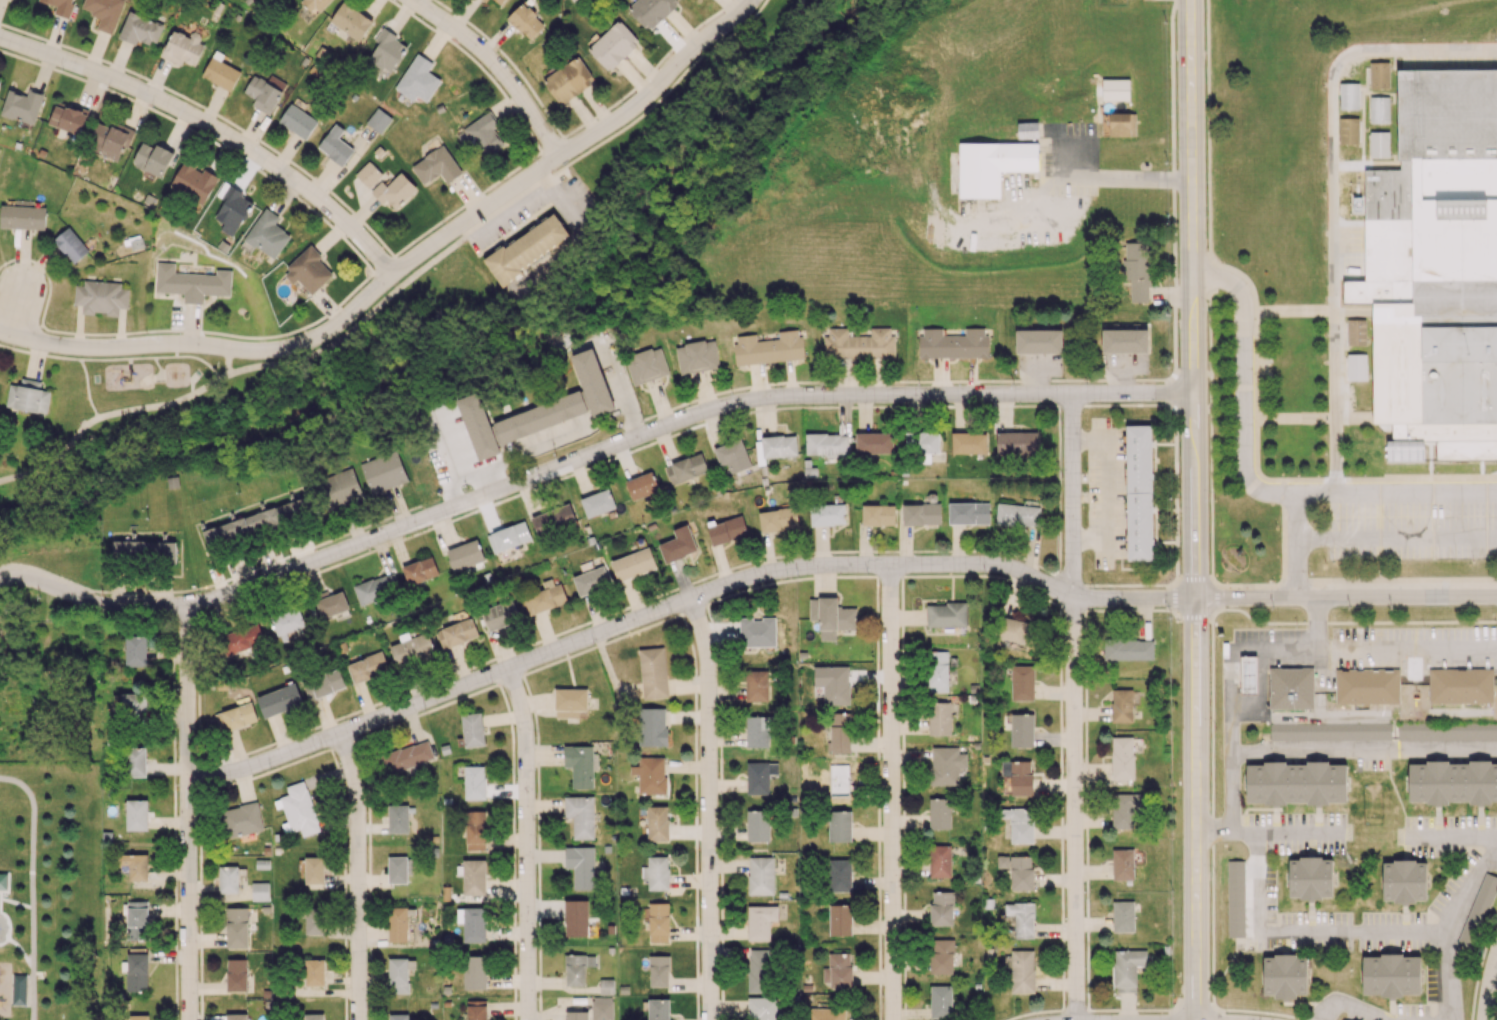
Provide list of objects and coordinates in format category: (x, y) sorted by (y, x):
building: (485, 0)
building: (499, 1)
building: (314, 5)
building: (60, 6)
building: (651, 11)
building: (104, 12)
building: (351, 21)
building: (525, 21)
building: (140, 29)
building: (613, 45)
building: (182, 47)
building: (387, 51)
road: (498, 66)
building: (220, 72)
building: (1379, 76)
building: (0, 78)
building: (417, 79)
building: (568, 80)
building: (1115, 89)
road: (664, 91)
building: (265, 92)
building: (1348, 97)
building: (22, 105)
building: (1379, 111)
building: (67, 118)
building: (378, 120)
building: (298, 121)
building: (1119, 124)
road: (214, 125)
building: (1027, 130)
building: (1349, 131)
building: (483, 134)
building: (109, 141)
building: (335, 145)
building: (1379, 145)
building: (151, 158)
building: (436, 166)
building: (991, 166)
building: (368, 174)
road: (1122, 175)
building: (193, 182)
building: (394, 191)
road: (1331, 193)
road: (472, 199)
building: (232, 208)
building: (22, 217)
road: (455, 226)
building: (267, 234)
building: (72, 246)
building: (526, 248)
building: (1437, 262)
building: (308, 270)
building: (1136, 270)
building: (192, 281)
road: (397, 287)
building: (101, 297)
road: (1192, 298)
road: (14, 309)
building: (1356, 334)
building: (1124, 340)
building: (1038, 341)
building: (953, 343)
building: (859, 344)
road: (60, 345)
building: (768, 348)
road: (39, 353)
road: (123, 356)
building: (697, 356)
road: (34, 362)
building: (646, 365)
building: (1357, 368)
road: (1088, 379)
building: (593, 380)
road: (1244, 385)
road: (1171, 390)
building: (27, 396)
road: (1126, 403)
road: (1070, 405)
road: (121, 412)
building: (540, 415)
road: (632, 420)
building: (478, 424)
building: (1017, 442)
building: (873, 443)
building: (968, 443)
building: (826, 444)
building: (775, 447)
building: (732, 456)
park: (115, 457)
road: (585, 457)
road: (587, 466)
road: (466, 467)
building: (685, 468)
building: (383, 472)
building: (641, 485)
road: (1111, 487)
building: (340, 489)
building: (1139, 492)
road: (1396, 492)
road: (1069, 497)
building: (597, 503)
road: (396, 506)
building: (921, 513)
building: (968, 513)
building: (827, 514)
building: (878, 514)
building: (1017, 515)
building: (778, 519)
building: (553, 520)
building: (257, 522)
parking lot: (1412, 526)
building: (727, 530)
building: (508, 536)
road: (1397, 539)
building: (678, 544)
road: (1297, 545)
building: (144, 550)
building: (465, 555)
building: (633, 564)
building: (419, 570)
building: (590, 580)
road: (214, 583)
building: (376, 588)
road: (123, 592)
road: (1345, 598)
building: (544, 599)
road: (1132, 602)
building: (331, 605)
building: (500, 614)
building: (946, 614)
building: (831, 617)
building: (287, 621)
road: (1320, 623)
road: (624, 628)
building: (1017, 630)
building: (757, 632)
building: (456, 633)
building: (242, 639)
building: (411, 649)
building: (1130, 649)
road: (1313, 649)
building: (135, 650)
building: (367, 667)
building: (938, 670)
building: (653, 672)
building: (1248, 673)
building: (1022, 682)
building: (832, 683)
building: (324, 684)
building: (1460, 685)
building: (756, 686)
building: (1367, 686)
building: (1291, 688)
building: (279, 700)
building: (570, 703)
building: (129, 704)
building: (1121, 705)
building: (236, 716)
building: (939, 718)
building: (652, 726)
building: (472, 729)
building: (758, 730)
building: (1022, 730)
building: (1330, 731)
building: (1430, 732)
building: (839, 733)
road: (1363, 755)
building: (407, 756)
building: (1122, 760)
building: (135, 762)
building: (580, 764)
building: (946, 765)
building: (650, 775)
building: (1018, 776)
building: (759, 777)
building: (474, 781)
building: (1452, 782)
building: (1295, 783)
road: (889, 793)
road: (1229, 796)
road: (1068, 808)
road: (1195, 808)
road: (710, 809)
building: (1125, 809)
building: (298, 810)
road: (189, 811)
building: (939, 813)
building: (136, 814)
building: (580, 815)
building: (397, 818)
building: (242, 819)
building: (657, 823)
building: (1020, 824)
building: (757, 825)
building: (839, 826)
building: (475, 830)
road: (1284, 836)
road: (1452, 836)
road: (1212, 838)
road: (528, 844)
building: (939, 861)
building: (1002, 861)
building: (1122, 864)
building: (133, 865)
building: (580, 866)
building: (397, 869)
building: (314, 870)
building: (656, 872)
building: (1021, 872)
building: (760, 875)
building: (839, 875)
road: (361, 876)
building: (473, 877)
building: (1310, 877)
building: (228, 879)
building: (3, 880)
building: (1403, 881)
road: (35, 887)
park: (50, 889)
building: (259, 891)
road: (0, 893)
building: (1235, 898)
road: (17, 903)
building: (941, 908)
building: (1478, 911)
building: (1123, 916)
building: (576, 918)
building: (1021, 918)
building: (840, 919)
building: (137, 920)
building: (314, 921)
building: (760, 921)
building: (658, 922)
building: (474, 924)
building: (397, 925)
building: (237, 927)
road: (1444, 930)
road: (1301, 935)
road: (12, 941)
building: (941, 956)
building: (577, 968)
building: (1127, 969)
building: (659, 970)
building: (757, 970)
building: (838, 970)
building: (1022, 971)
building: (314, 972)
building: (474, 972)
building: (399, 973)
building: (236, 974)
building: (1284, 975)
building: (1391, 975)
building: (606, 986)
building: (20, 989)
road: (1490, 992)
building: (940, 1002)
building: (602, 1008)
building: (762, 1008)
building: (476, 1009)
building: (658, 1009)
road: (1349, 1011)
building: (826, 1014)
building: (577, 1015)
building: (236, 1016)
building: (313, 1016)
building: (398, 1016)
building: (138, 1017)

